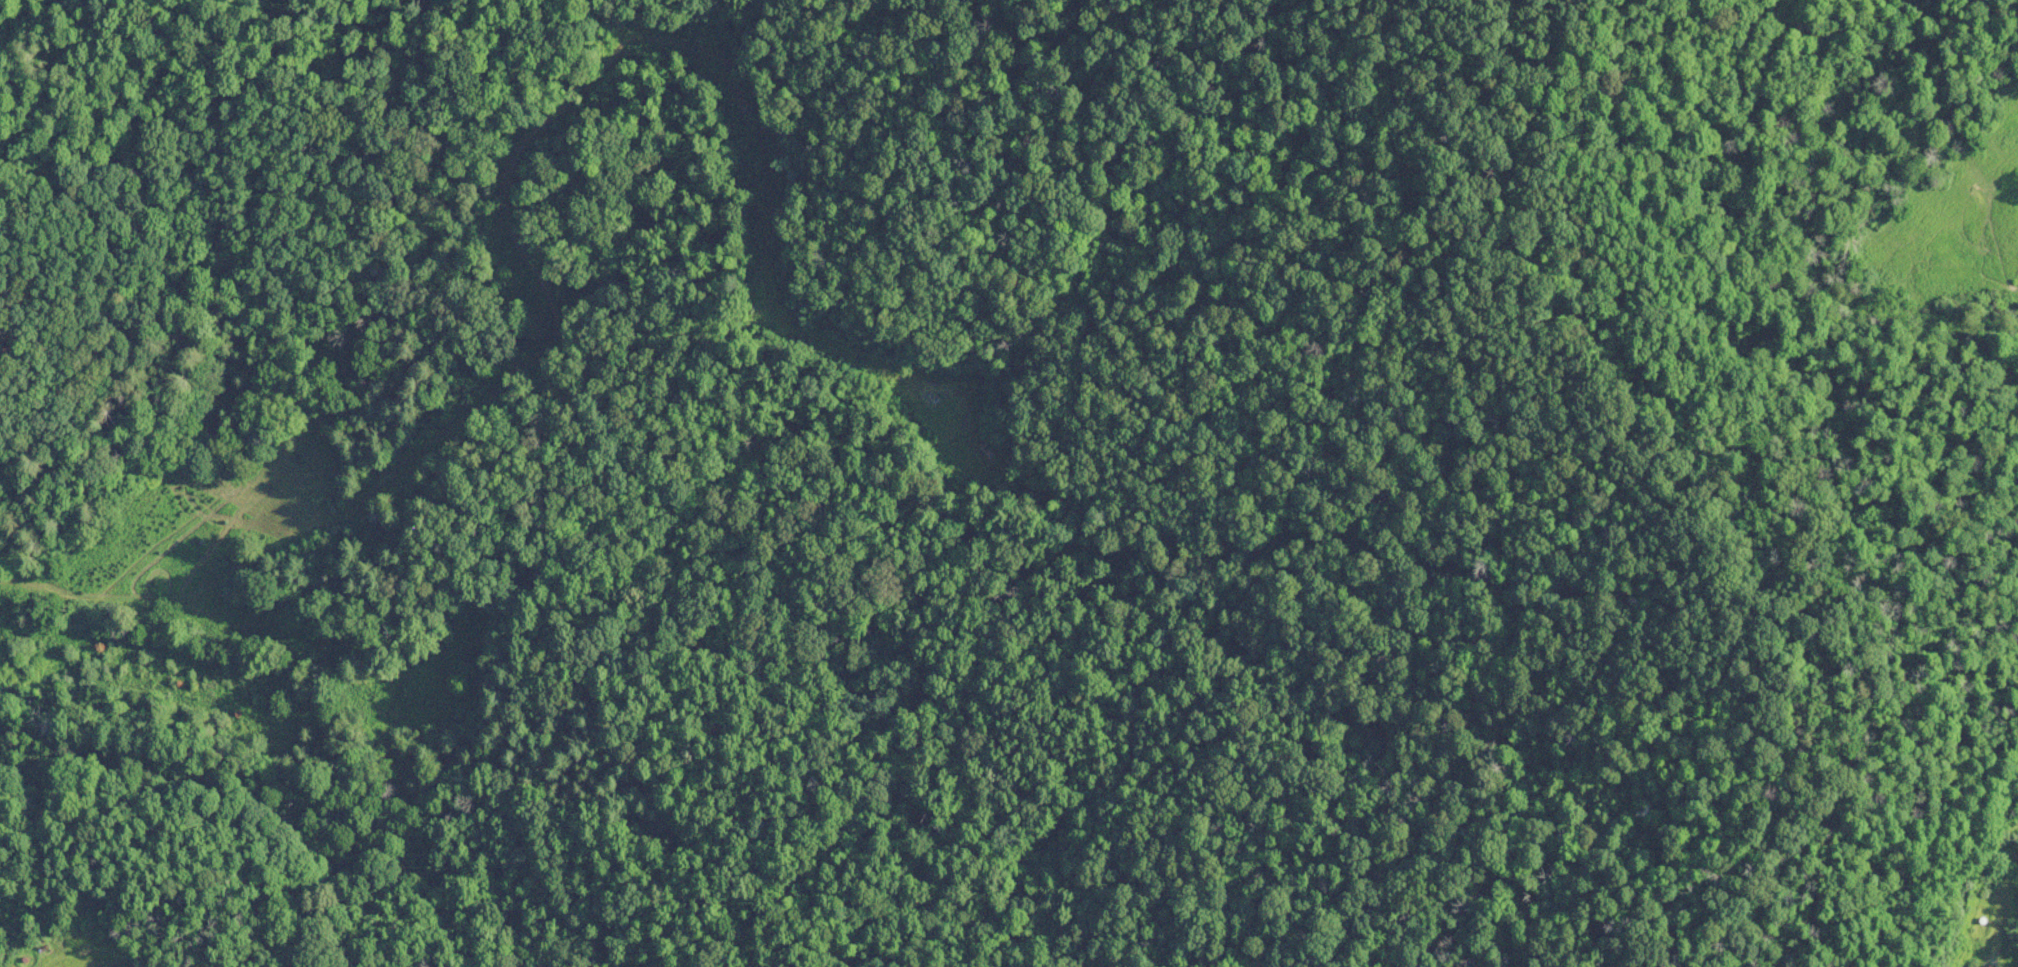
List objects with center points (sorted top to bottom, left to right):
road: (670, 912)

